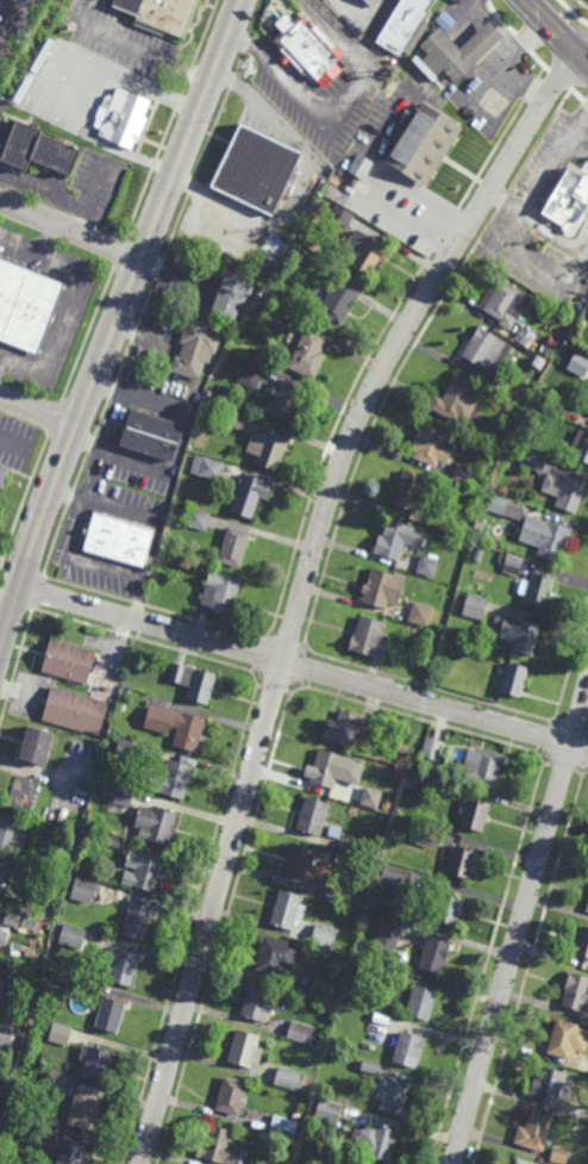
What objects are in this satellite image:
building: (373, 2)
building: (157, 13)
road: (11, 18)
building: (444, 20)
building: (402, 25)
road: (557, 31)
building: (415, 37)
building: (309, 50)
building: (458, 51)
road: (158, 57)
road: (89, 102)
building: (123, 118)
building: (425, 145)
building: (36, 150)
building: (361, 167)
building: (257, 170)
road: (52, 193)
building: (567, 198)
road: (217, 200)
building: (345, 219)
road: (71, 230)
road: (50, 241)
road: (20, 247)
building: (367, 253)
building: (233, 295)
building: (340, 301)
building: (507, 305)
building: (26, 306)
road: (117, 323)
road: (62, 324)
building: (525, 337)
building: (195, 350)
building: (308, 354)
building: (490, 357)
building: (581, 361)
road: (1, 363)
building: (251, 372)
building: (213, 394)
building: (287, 400)
building: (457, 402)
building: (556, 410)
road: (38, 411)
building: (237, 421)
building: (151, 436)
building: (495, 441)
road: (14, 442)
road: (180, 446)
building: (431, 446)
building: (581, 446)
building: (267, 448)
building: (534, 462)
building: (512, 465)
building: (206, 467)
building: (4, 474)
building: (463, 474)
building: (478, 479)
building: (409, 491)
building: (564, 491)
building: (249, 494)
building: (499, 504)
building: (198, 519)
building: (443, 519)
building: (457, 523)
building: (464, 530)
building: (545, 536)
building: (119, 539)
building: (394, 539)
building: (233, 546)
building: (476, 554)
building: (184, 565)
building: (427, 565)
building: (512, 565)
road: (305, 584)
building: (538, 587)
building: (382, 589)
building: (220, 592)
building: (475, 605)
building: (421, 614)
building: (517, 633)
building: (369, 637)
road: (0, 643)
building: (461, 649)
building: (69, 660)
road: (302, 667)
building: (119, 671)
building: (514, 679)
building: (194, 683)
building: (123, 707)
building: (74, 710)
building: (176, 727)
building: (342, 728)
building: (37, 745)
building: (126, 746)
building: (433, 748)
building: (155, 753)
building: (483, 766)
building: (326, 767)
building: (176, 779)
building: (412, 779)
building: (451, 786)
building: (361, 795)
building: (24, 796)
building: (123, 797)
building: (425, 801)
building: (92, 814)
building: (475, 815)
building: (313, 816)
building: (60, 818)
building: (156, 824)
building: (48, 829)
building: (12, 833)
building: (393, 835)
building: (427, 835)
building: (112, 841)
building: (348, 846)
building: (340, 858)
building: (461, 860)
building: (304, 867)
building: (143, 870)
building: (2, 874)
building: (400, 878)
building: (85, 890)
building: (333, 894)
building: (24, 905)
building: (587, 907)
building: (287, 910)
building: (448, 910)
building: (345, 914)
building: (10, 917)
building: (137, 921)
road: (520, 925)
building: (323, 935)
building: (388, 935)
building: (73, 936)
building: (2, 938)
building: (582, 942)
building: (438, 954)
building: (274, 956)
building: (124, 966)
building: (398, 973)
building: (32, 978)
building: (301, 981)
building: (76, 984)
building: (12, 992)
building: (575, 992)
building: (256, 1003)
building: (423, 1003)
building: (108, 1015)
building: (377, 1029)
building: (301, 1033)
building: (61, 1034)
building: (6, 1039)
building: (563, 1041)
building: (406, 1048)
building: (244, 1050)
building: (337, 1059)
building: (95, 1064)
building: (368, 1067)
building: (289, 1079)
building: (56, 1083)
building: (553, 1088)
building: (395, 1096)
building: (231, 1097)
building: (85, 1110)
building: (329, 1113)
building: (578, 1115)
building: (7, 1120)
building: (284, 1127)
building: (30, 1128)
building: (534, 1133)
building: (379, 1146)
building: (219, 1147)
building: (64, 1152)
building: (558, 1157)
building: (327, 1162)
building: (523, 1162)

